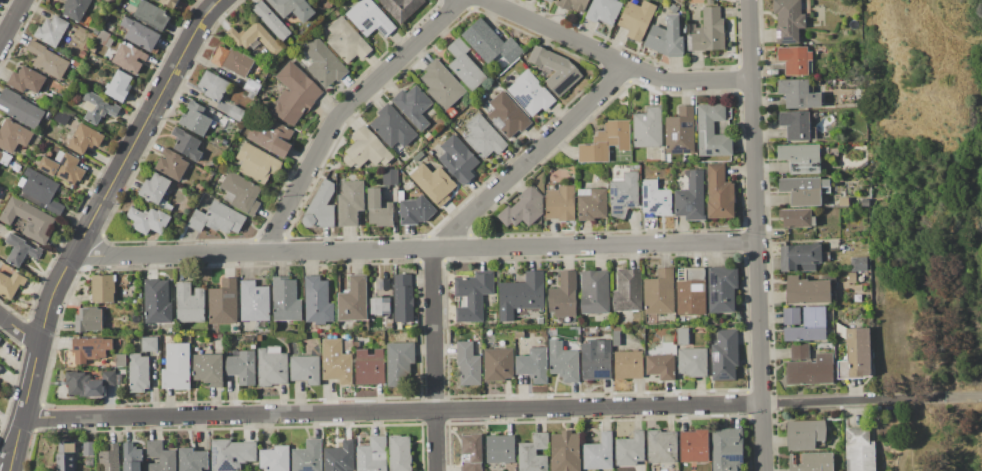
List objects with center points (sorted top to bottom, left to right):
building: (550, 0)
building: (122, 2)
building: (574, 4)
building: (175, 5)
building: (401, 8)
building: (673, 8)
building: (76, 9)
building: (293, 9)
building: (604, 10)
building: (151, 15)
building: (369, 18)
building: (637, 20)
building: (789, 20)
building: (272, 21)
road: (12, 22)
building: (51, 30)
building: (707, 32)
building: (139, 34)
building: (667, 37)
building: (104, 38)
building: (254, 38)
building: (347, 41)
building: (490, 43)
building: (86, 46)
building: (92, 49)
building: (82, 54)
building: (129, 57)
road: (616, 59)
building: (47, 60)
building: (232, 60)
building: (796, 60)
building: (323, 63)
building: (464, 65)
building: (556, 69)
building: (26, 80)
building: (118, 86)
building: (213, 86)
building: (442, 86)
building: (252, 87)
building: (530, 93)
building: (294, 94)
building: (798, 94)
building: (413, 105)
building: (20, 108)
building: (98, 108)
road: (345, 111)
building: (236, 113)
building: (507, 115)
building: (61, 118)
building: (195, 119)
building: (797, 125)
building: (392, 127)
building: (647, 127)
building: (712, 131)
building: (680, 132)
building: (13, 135)
building: (428, 135)
building: (272, 137)
building: (483, 137)
building: (85, 139)
building: (36, 141)
building: (605, 142)
building: (187, 144)
building: (365, 149)
building: (5, 158)
building: (801, 158)
building: (458, 160)
building: (257, 163)
building: (172, 164)
building: (63, 167)
building: (389, 177)
building: (21, 182)
building: (434, 183)
building: (805, 189)
building: (41, 191)
building: (156, 191)
building: (2, 192)
building: (241, 193)
building: (720, 193)
building: (624, 194)
building: (690, 195)
building: (655, 200)
building: (349, 201)
building: (561, 203)
building: (865, 203)
building: (592, 204)
park: (942, 206)
building: (321, 208)
building: (379, 209)
building: (415, 209)
building: (523, 209)
road: (97, 212)
building: (797, 217)
building: (28, 219)
building: (217, 219)
building: (148, 220)
road: (452, 234)
road: (758, 235)
building: (20, 250)
road: (416, 250)
building: (801, 257)
building: (859, 264)
building: (852, 278)
building: (10, 284)
building: (103, 288)
building: (722, 289)
building: (628, 291)
building: (808, 291)
building: (595, 292)
building: (659, 293)
building: (692, 293)
building: (472, 296)
building: (521, 296)
building: (564, 297)
building: (403, 299)
building: (286, 300)
building: (353, 300)
building: (157, 301)
building: (318, 301)
building: (255, 302)
building: (190, 303)
building: (224, 303)
building: (381, 306)
building: (791, 316)
building: (88, 320)
building: (809, 326)
building: (135, 328)
road: (20, 329)
building: (218, 336)
building: (259, 337)
building: (0, 338)
building: (248, 338)
building: (616, 338)
building: (149, 344)
building: (93, 348)
building: (855, 353)
building: (690, 355)
building: (725, 355)
building: (596, 359)
building: (121, 360)
building: (336, 362)
building: (563, 362)
building: (400, 364)
building: (468, 364)
building: (498, 364)
building: (629, 364)
building: (533, 365)
building: (0, 366)
building: (241, 366)
building: (661, 366)
building: (176, 367)
building: (272, 367)
building: (369, 367)
building: (809, 367)
building: (1, 369)
building: (209, 369)
building: (305, 369)
building: (138, 373)
building: (89, 384)
road: (958, 397)
road: (849, 401)
road: (394, 412)
building: (805, 434)
road: (915, 435)
building: (694, 446)
building: (662, 447)
building: (88, 448)
building: (500, 449)
building: (630, 449)
building: (726, 449)
building: (859, 450)
building: (565, 451)
building: (598, 452)
building: (400, 453)
building: (472, 453)
building: (534, 453)
building: (231, 454)
road: (8, 455)
building: (372, 455)
building: (308, 456)
building: (66, 457)
building: (132, 457)
building: (160, 457)
building: (340, 457)
road: (13, 458)
building: (110, 458)
building: (275, 459)
building: (193, 460)
building: (812, 462)

